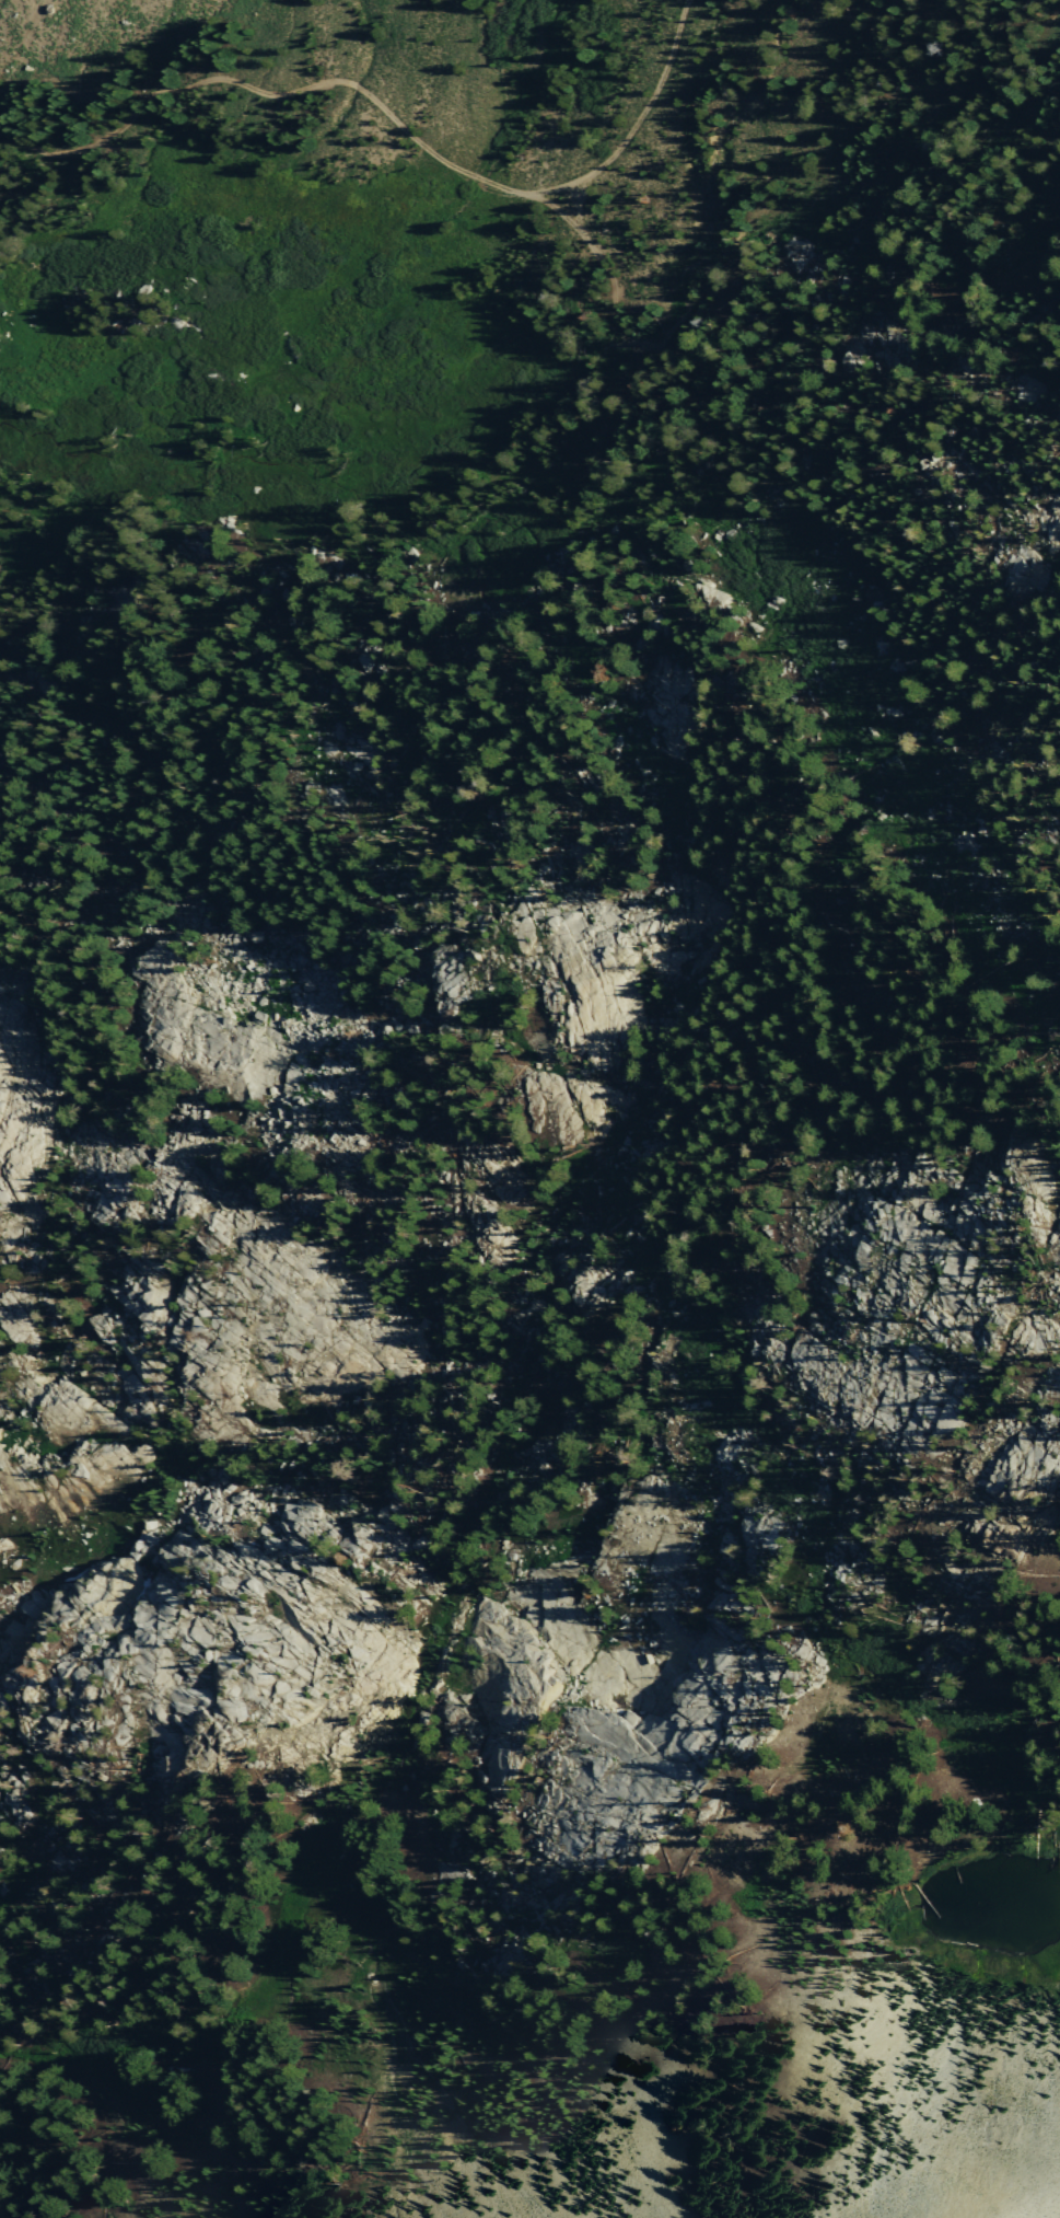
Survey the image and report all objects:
road: (981, 18)
road: (387, 115)
road: (556, 627)

